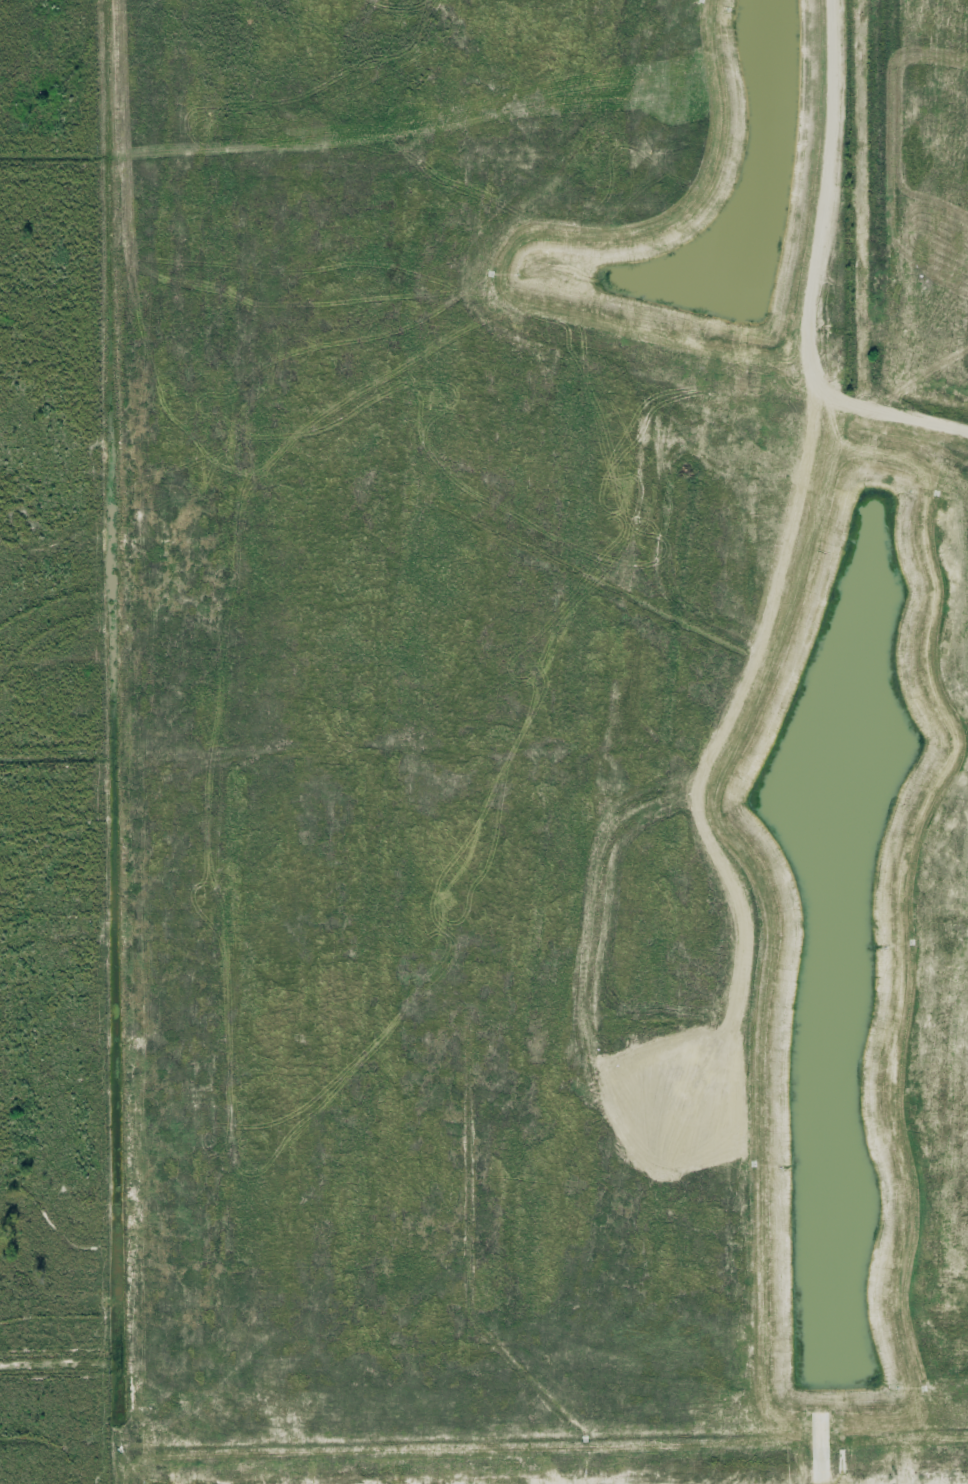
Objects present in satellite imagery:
road: (815, 273)

